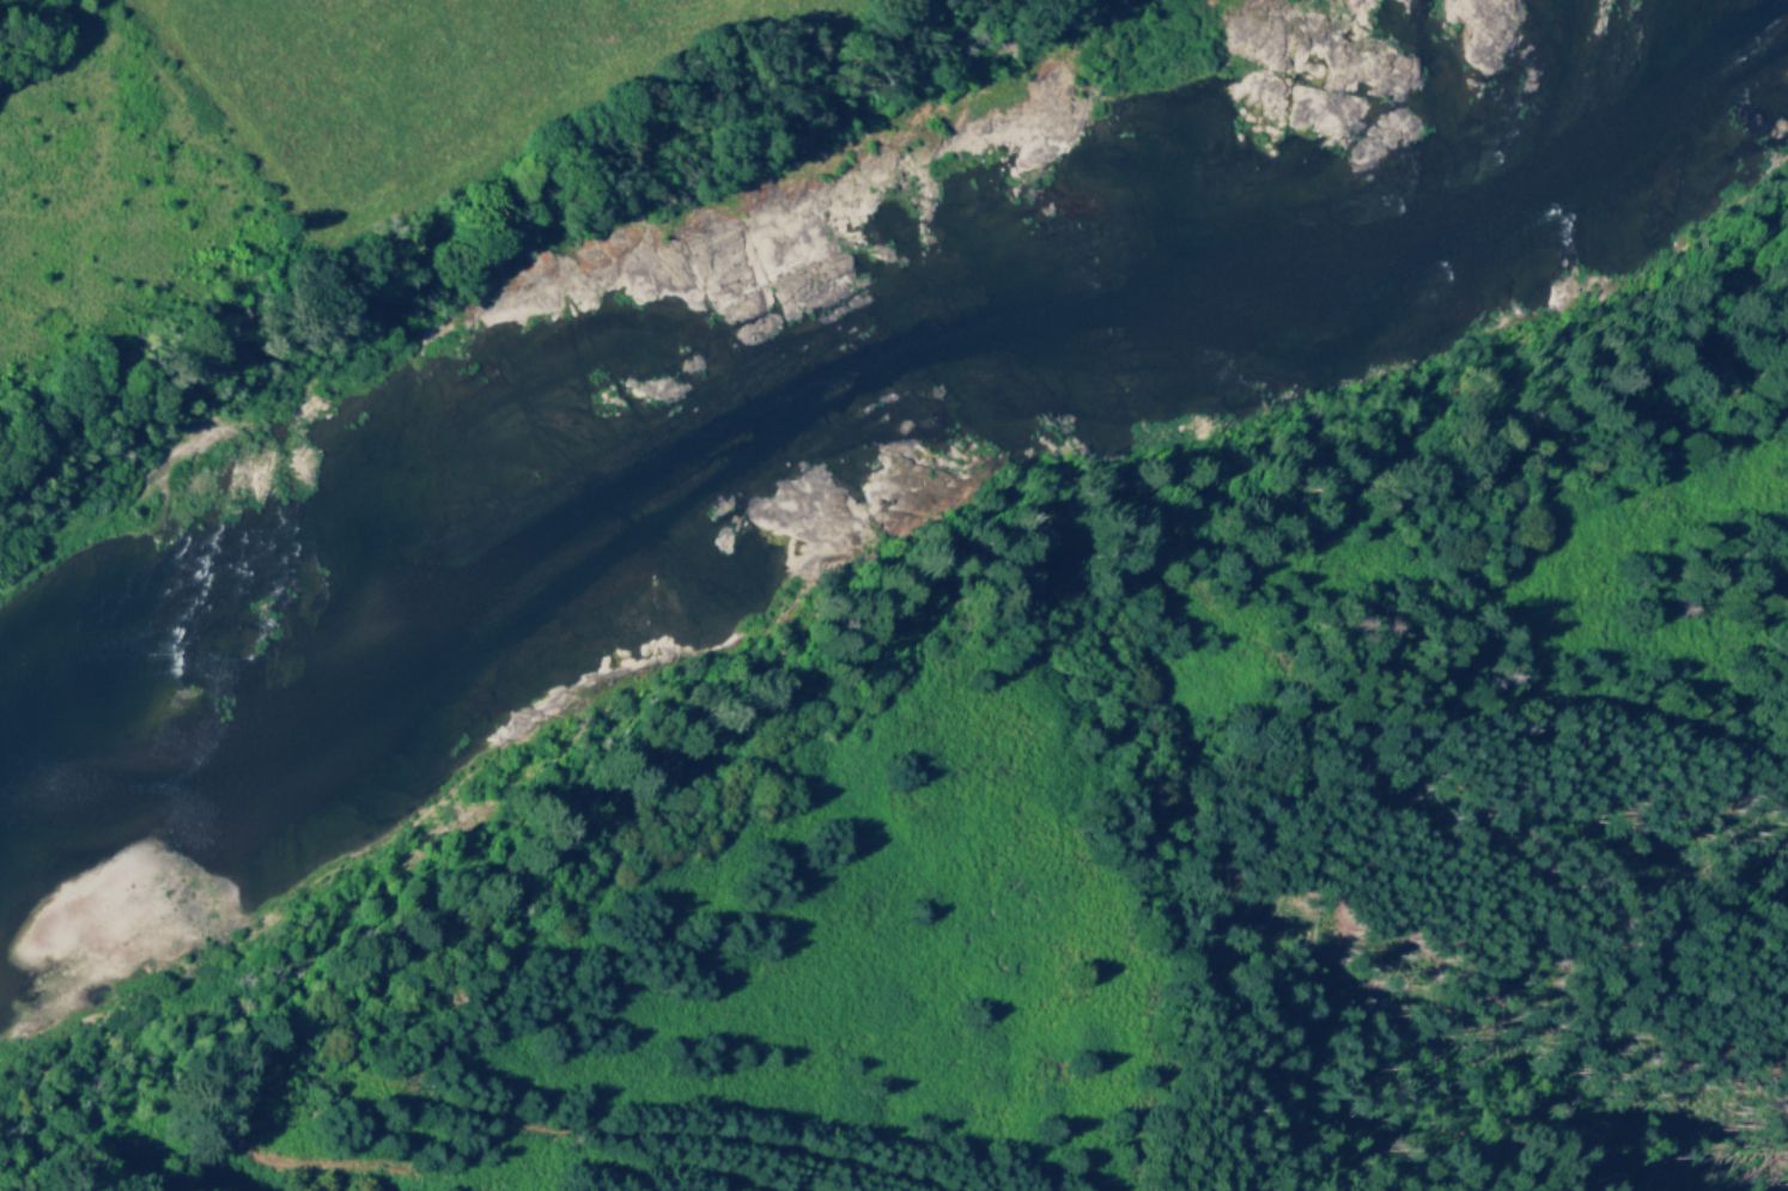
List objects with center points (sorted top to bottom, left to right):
river: (882, 407)

